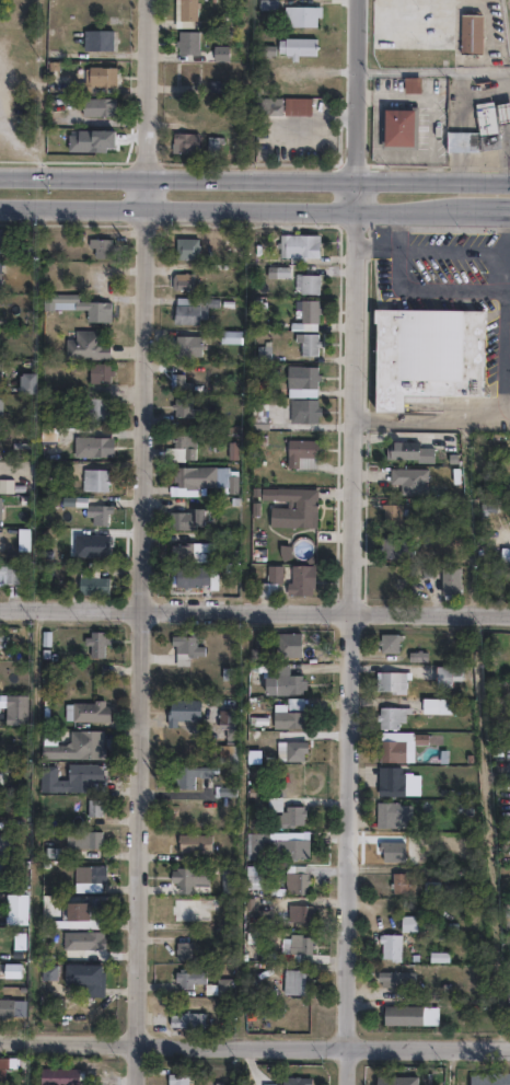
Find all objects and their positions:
building: (268, 4)
building: (187, 9)
building: (302, 13)
building: (92, 32)
building: (473, 34)
building: (100, 39)
building: (187, 41)
building: (297, 45)
building: (220, 51)
building: (93, 71)
building: (186, 73)
building: (104, 77)
building: (413, 84)
road: (151, 88)
road: (357, 89)
road: (431, 101)
building: (91, 102)
building: (267, 105)
building: (503, 112)
road: (317, 120)
building: (401, 127)
building: (478, 134)
building: (177, 137)
building: (207, 139)
road: (378, 151)
road: (254, 176)
road: (234, 211)
road: (488, 215)
building: (1, 239)
building: (297, 243)
building: (100, 244)
road: (395, 247)
building: (185, 249)
road: (472, 250)
road: (506, 275)
building: (1, 276)
building: (304, 279)
building: (181, 280)
building: (76, 303)
building: (305, 308)
building: (189, 309)
building: (228, 334)
building: (305, 340)
building: (85, 344)
building: (185, 345)
building: (427, 351)
road: (503, 354)
building: (1, 370)
building: (96, 371)
building: (305, 376)
building: (24, 381)
building: (178, 382)
building: (0, 402)
building: (179, 406)
building: (92, 409)
building: (302, 411)
road: (506, 413)
building: (256, 415)
road: (428, 420)
building: (88, 445)
building: (178, 446)
building: (412, 452)
building: (300, 453)
building: (92, 478)
building: (183, 480)
building: (413, 483)
building: (1, 507)
building: (84, 507)
building: (290, 516)
building: (395, 517)
building: (185, 518)
building: (396, 550)
building: (187, 552)
building: (8, 573)
building: (193, 576)
building: (89, 578)
building: (299, 579)
building: (268, 581)
building: (453, 585)
road: (254, 612)
road: (143, 630)
road: (353, 632)
building: (1, 639)
building: (386, 640)
building: (95, 643)
building: (281, 643)
building: (183, 645)
building: (11, 656)
building: (444, 673)
building: (389, 680)
building: (282, 681)
building: (434, 703)
building: (179, 708)
building: (16, 709)
building: (90, 711)
building: (288, 713)
building: (390, 715)
building: (224, 723)
building: (391, 745)
building: (76, 747)
building: (291, 748)
building: (189, 773)
building: (71, 778)
building: (395, 781)
building: (94, 807)
building: (287, 815)
building: (391, 816)
building: (86, 840)
building: (192, 841)
building: (4, 842)
building: (274, 845)
building: (85, 874)
building: (187, 875)
building: (293, 879)
building: (399, 882)
building: (507, 910)
building: (84, 913)
building: (182, 913)
building: (297, 913)
building: (406, 924)
building: (93, 940)
building: (297, 943)
building: (15, 944)
building: (387, 947)
building: (181, 949)
building: (439, 956)
building: (14, 970)
building: (47, 970)
building: (186, 977)
building: (83, 978)
building: (393, 978)
building: (21, 979)
building: (290, 981)
building: (220, 985)
building: (5, 1006)
building: (401, 1014)
building: (185, 1018)
road: (254, 1042)
building: (1, 1067)
building: (57, 1076)
building: (488, 1076)
building: (176, 1077)
building: (292, 1078)
building: (383, 1078)

